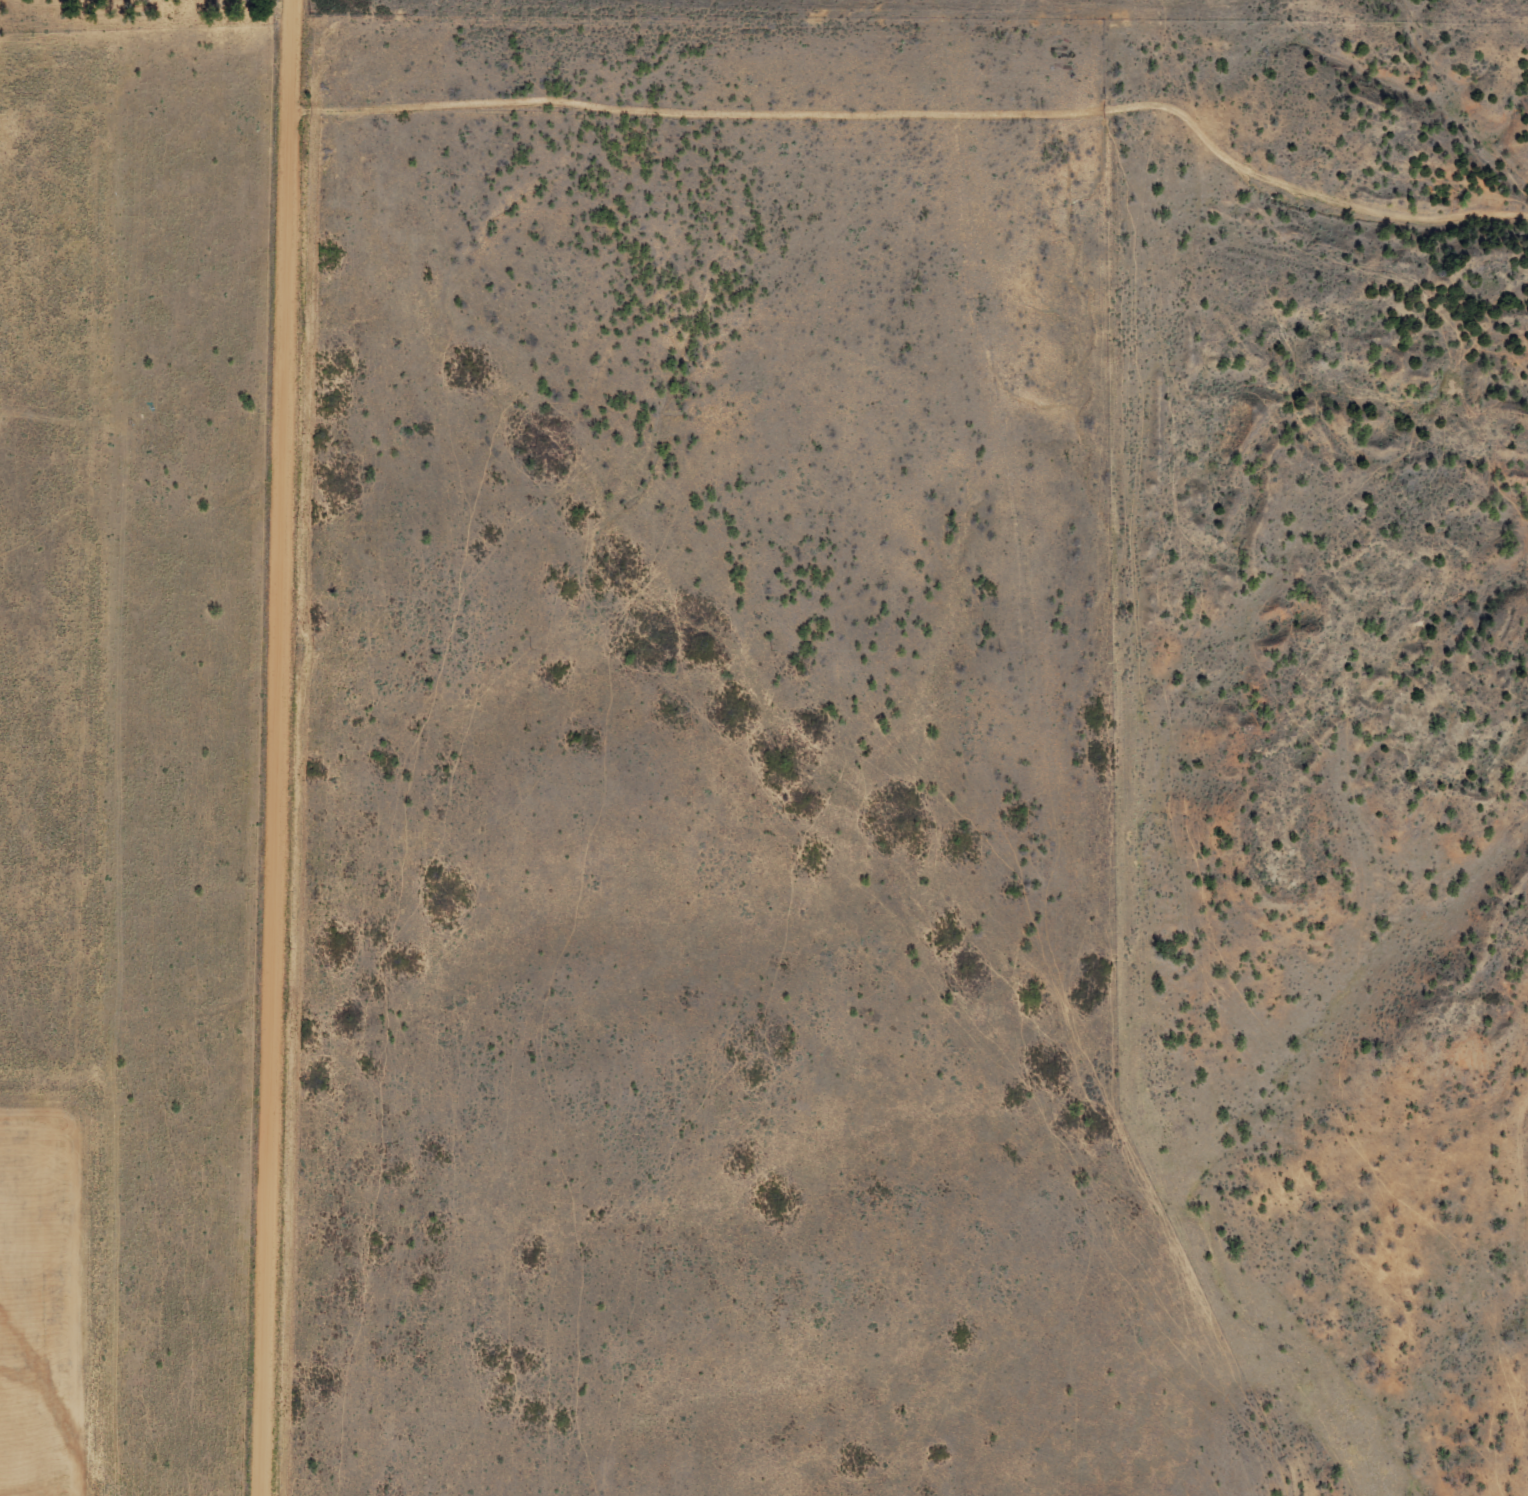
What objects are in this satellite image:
road: (279, 748)

